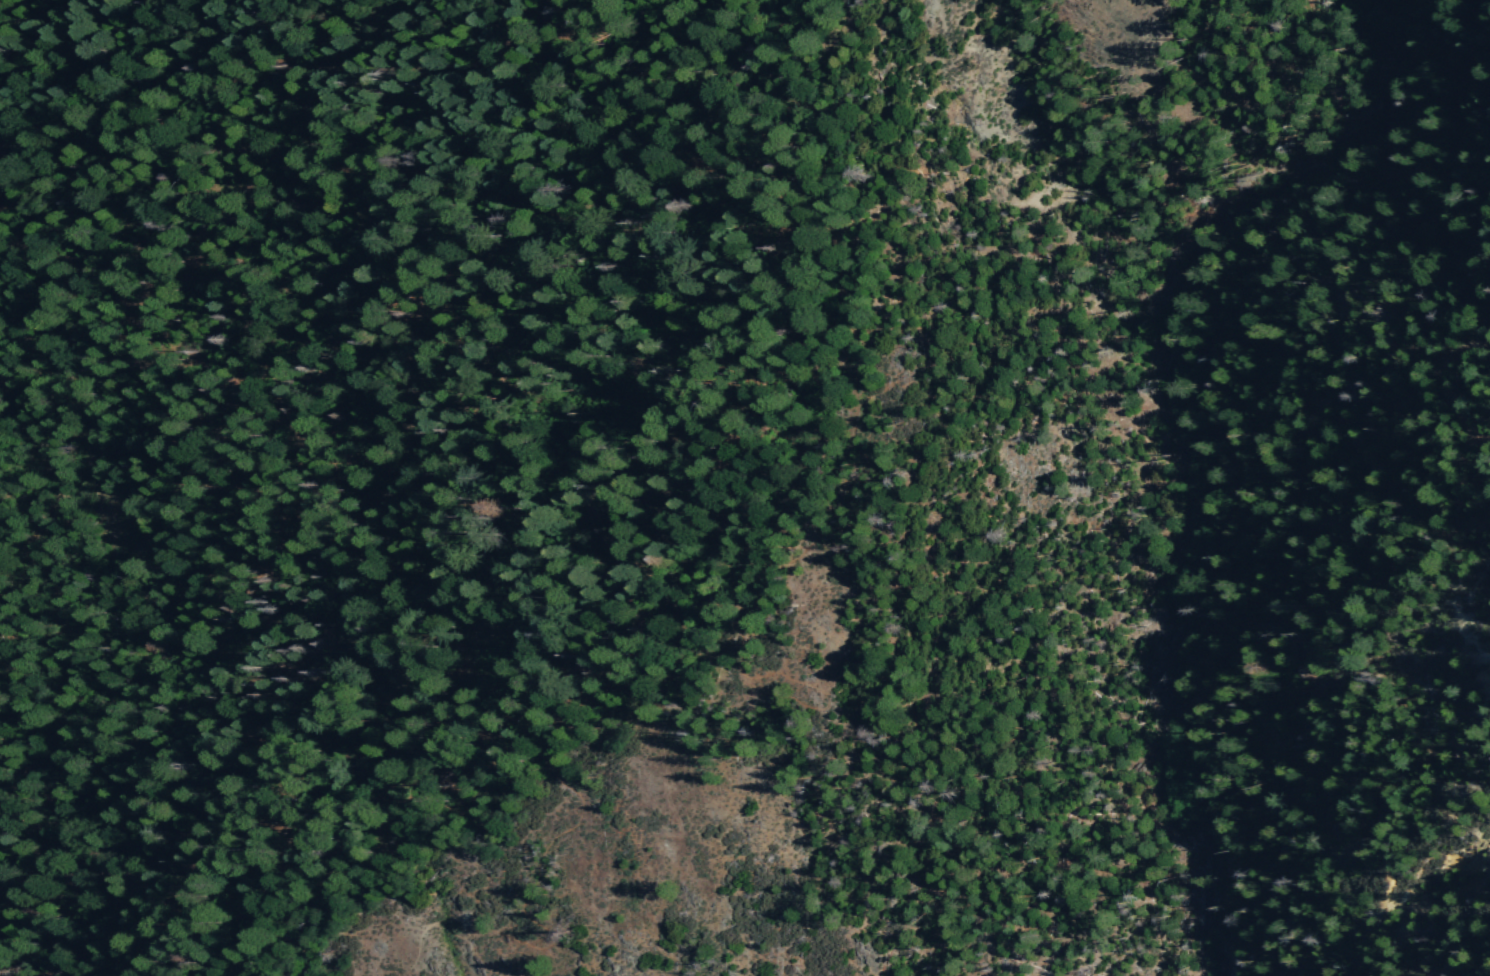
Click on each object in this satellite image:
road: (30, 35)
road: (462, 196)
road: (32, 214)
road: (1322, 871)
road: (3, 931)

